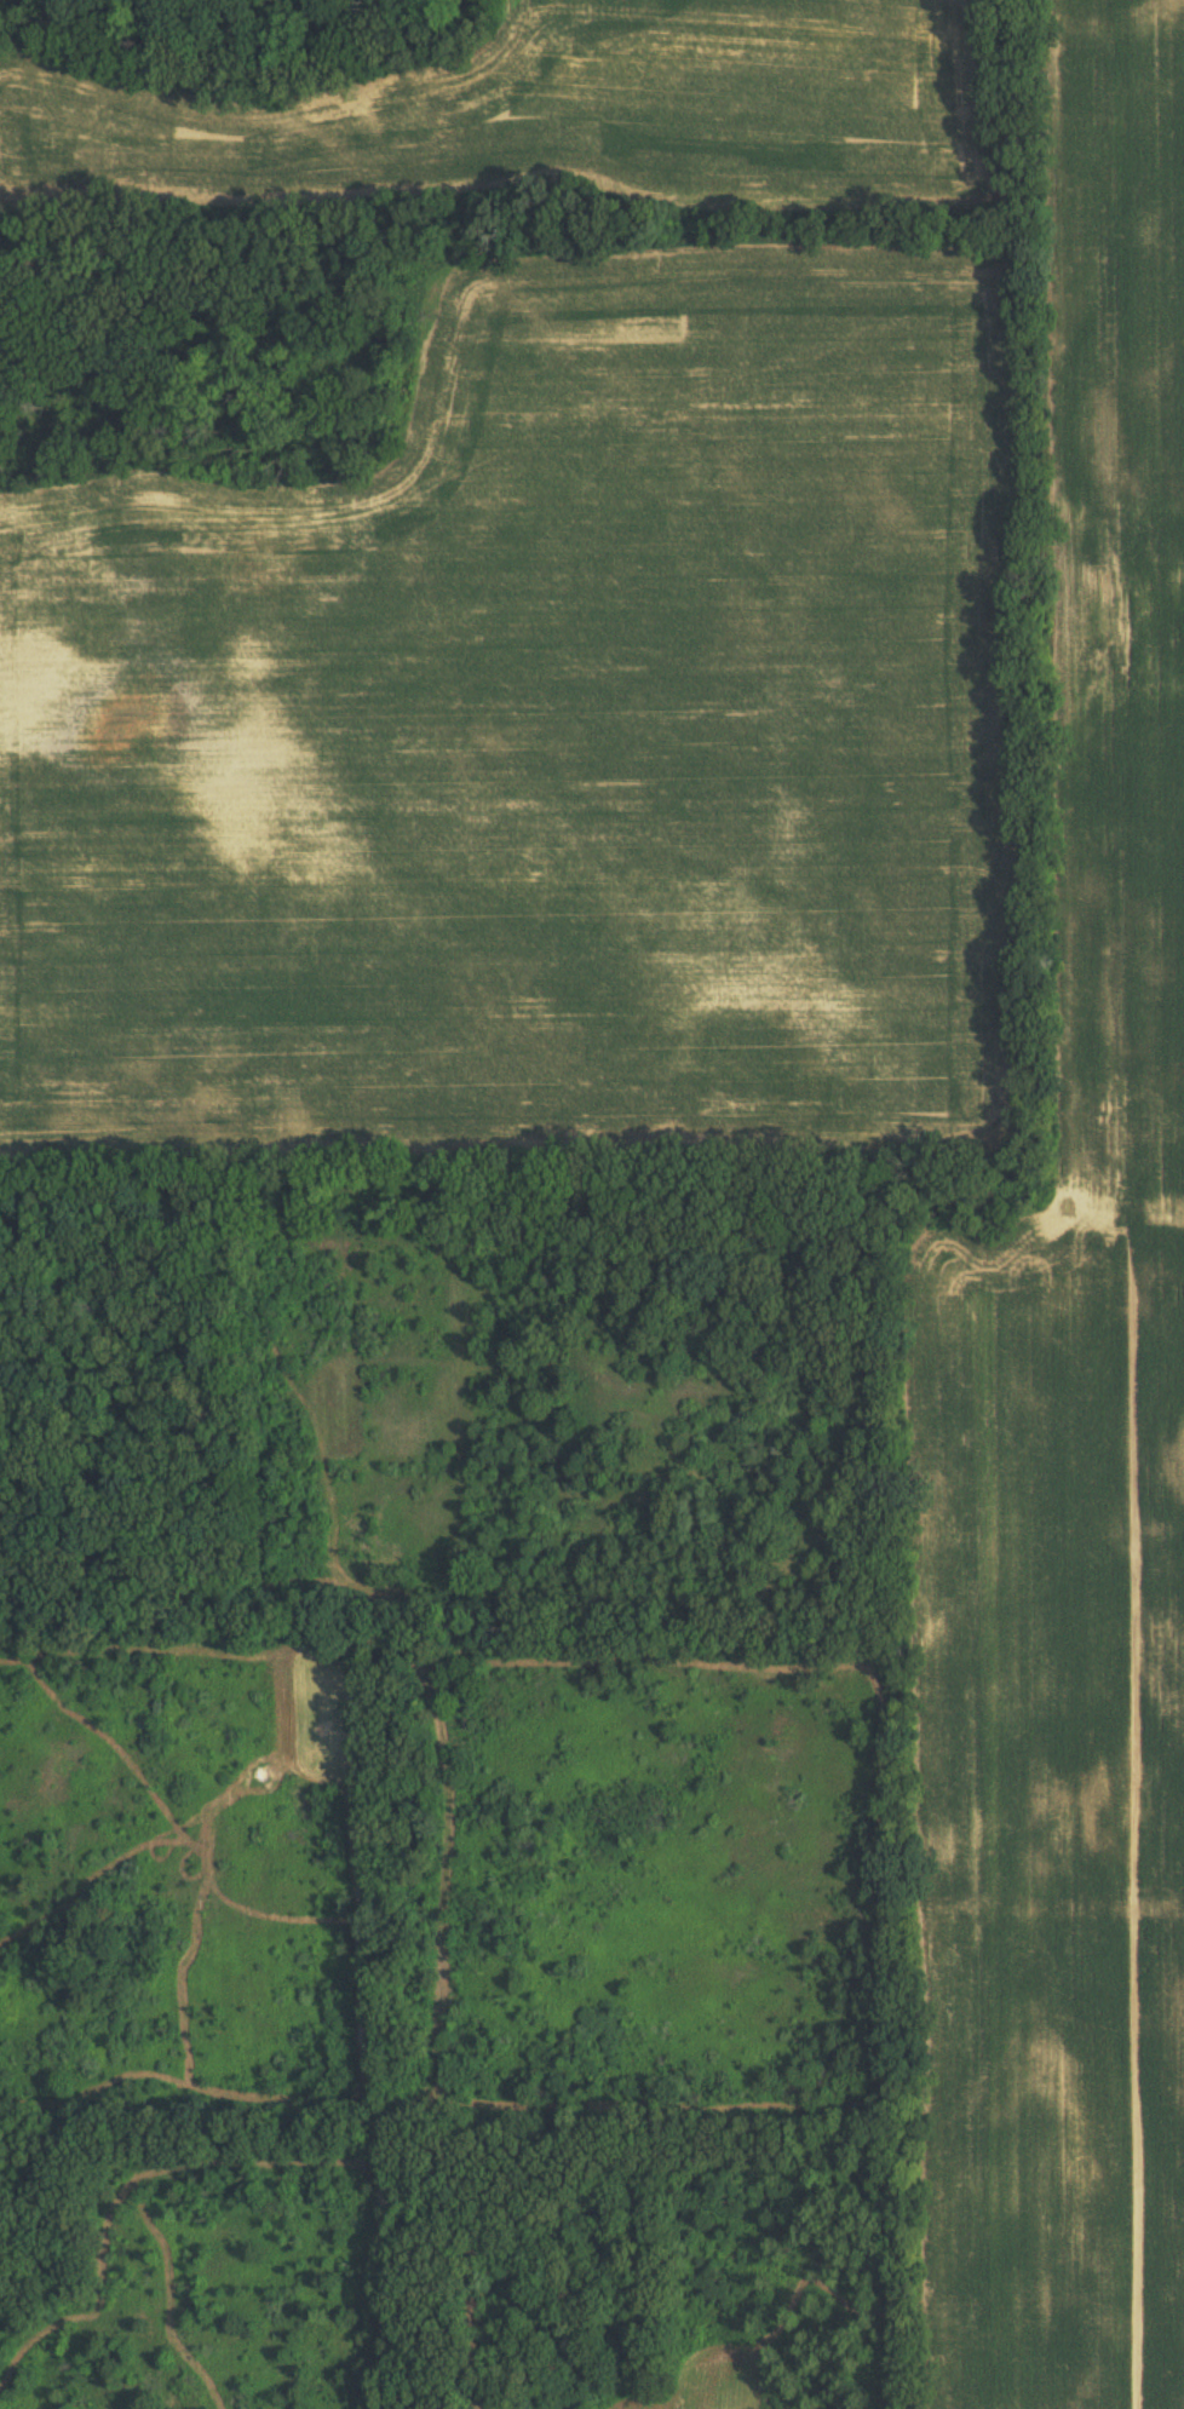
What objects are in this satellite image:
road: (592, 1189)

